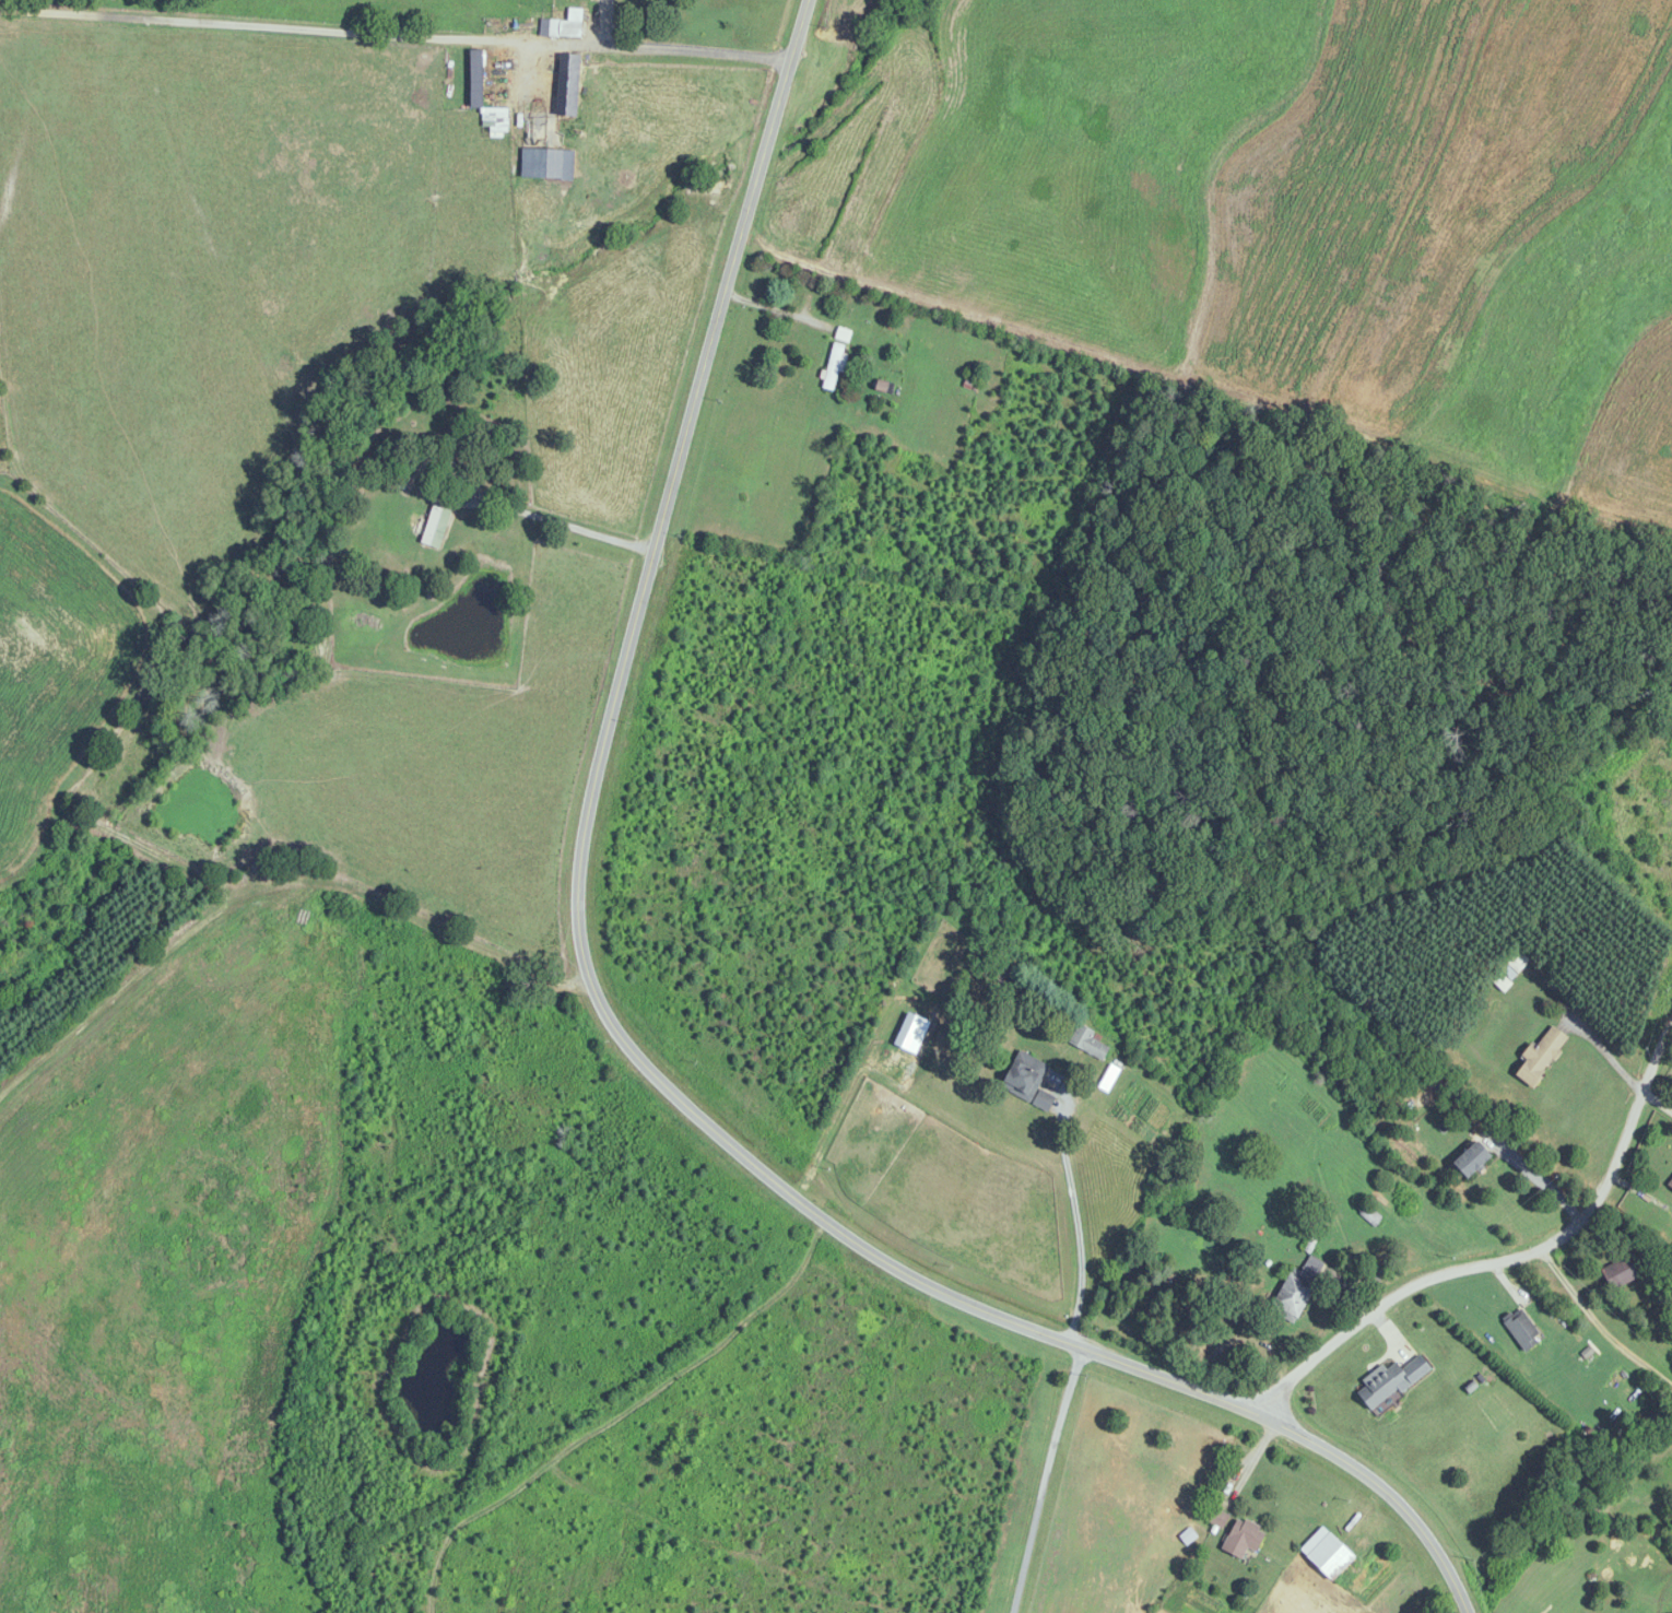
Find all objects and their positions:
road: (395, 24)
building: (491, 78)
building: (547, 164)
road: (490, 503)
building: (437, 527)
building: (1514, 964)
road: (614, 1023)
building: (1091, 1043)
building: (1541, 1058)
building: (1028, 1080)
building: (1474, 1159)
building: (1671, 1186)
road: (1076, 1221)
road: (1493, 1247)
building: (1622, 1271)
building: (1298, 1288)
road: (1597, 1309)
building: (1523, 1328)
building: (1394, 1379)
road: (1049, 1481)
building: (1218, 1518)
building: (1245, 1538)
building: (1329, 1553)

